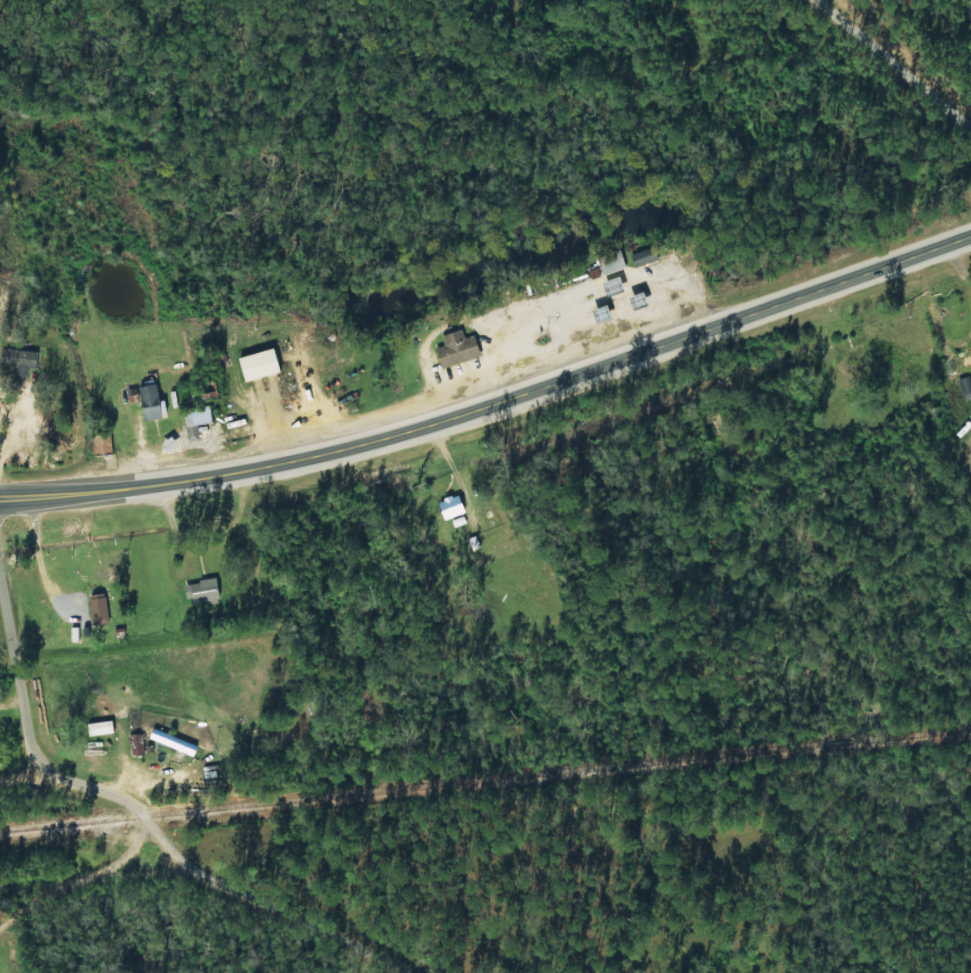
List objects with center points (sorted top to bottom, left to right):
road: (884, 71)
building: (643, 256)
building: (610, 262)
building: (457, 348)
building: (19, 359)
building: (260, 364)
building: (965, 386)
building: (133, 394)
building: (151, 402)
road: (495, 409)
building: (197, 420)
building: (452, 506)
building: (474, 542)
building: (202, 590)
building: (99, 608)
road: (20, 687)
building: (101, 727)
building: (173, 741)
building: (136, 744)
railway: (485, 781)
road: (73, 785)
road: (202, 920)
road: (187, 943)

